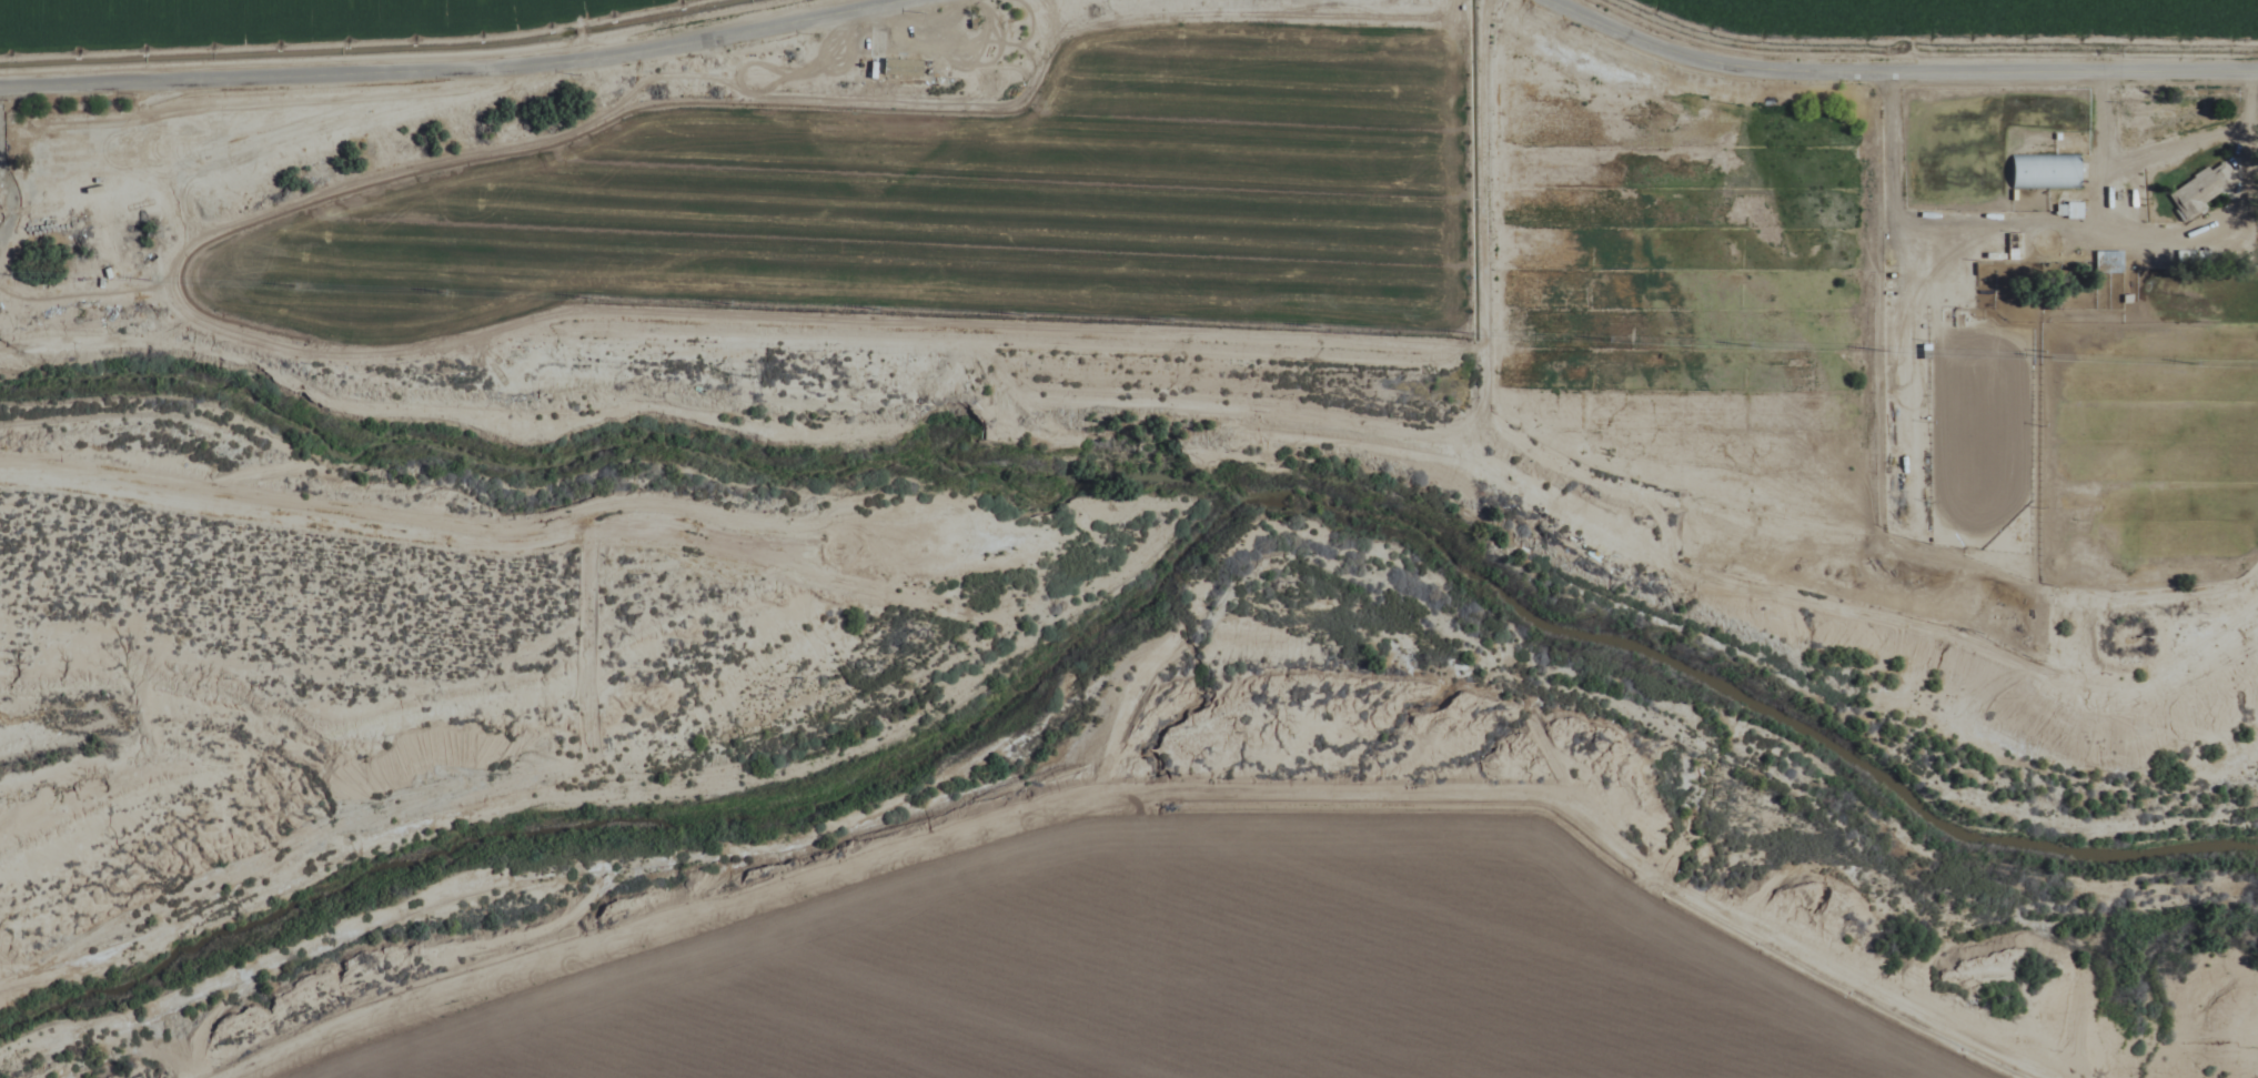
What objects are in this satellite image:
crop: (1939, 4)
crop: (133, 8)
road: (1131, 8)
building: (894, 66)
building: (2042, 171)
building: (2200, 189)
building: (2066, 210)
building: (2105, 263)

